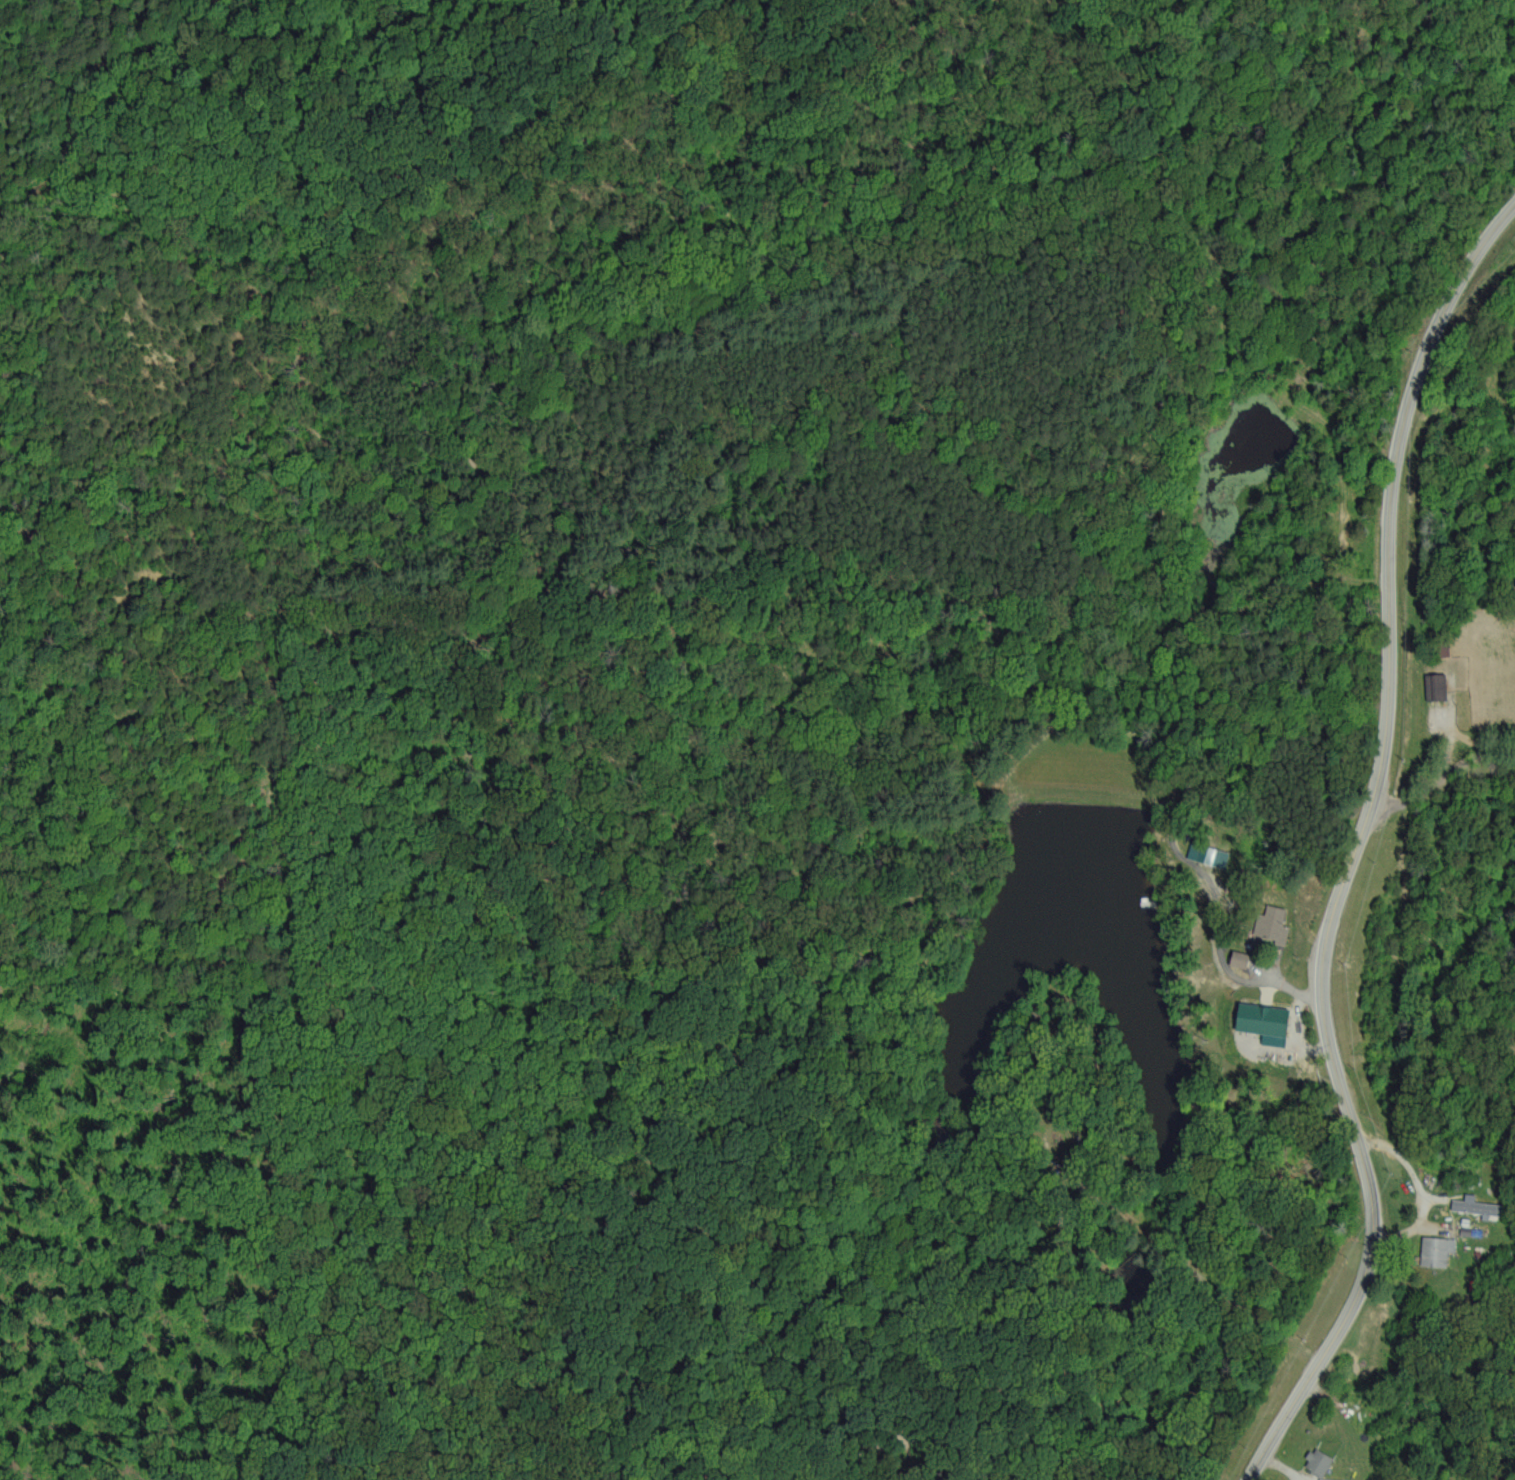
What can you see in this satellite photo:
building: (1437, 685)
road: (1443, 784)
road: (1369, 847)
building: (1208, 854)
building: (1275, 923)
building: (1241, 958)
building: (1266, 1019)
road: (1418, 1188)
building: (1483, 1218)
building: (1436, 1250)
building: (1319, 1461)
building: (1329, 1479)

